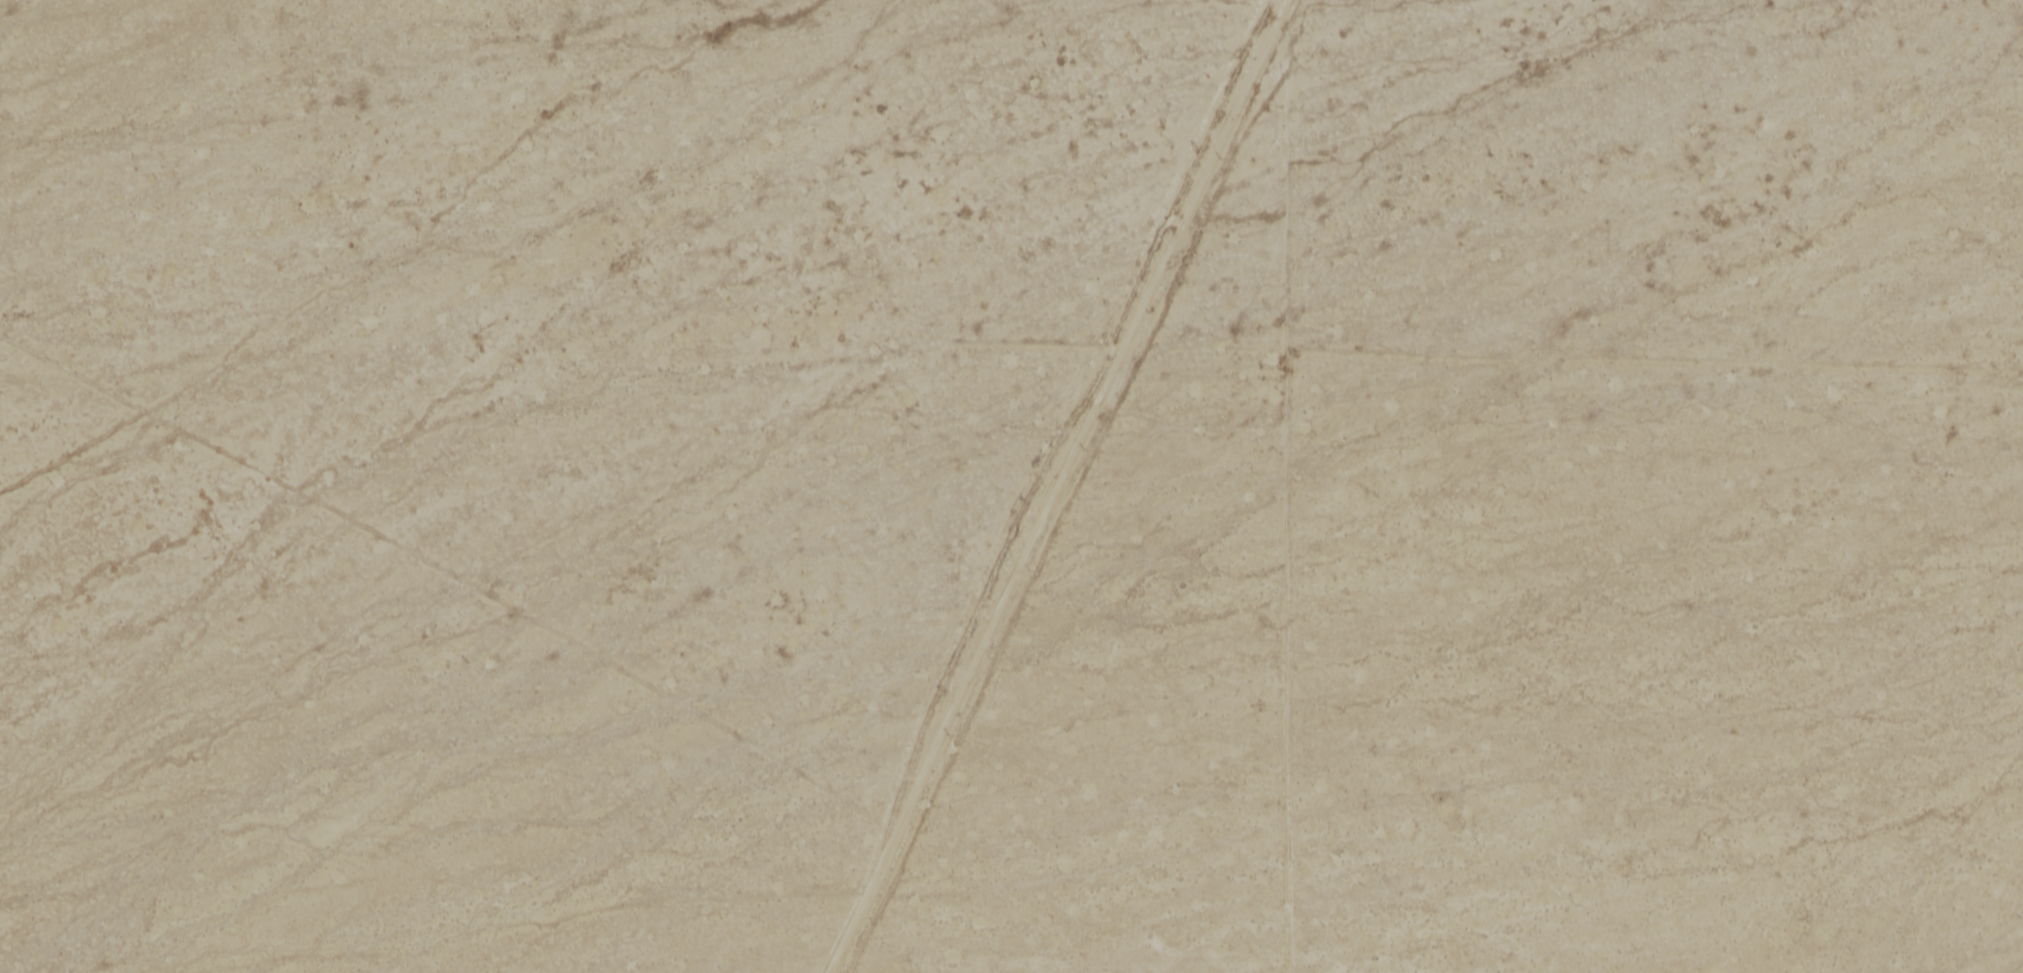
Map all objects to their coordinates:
road: (1058, 489)

